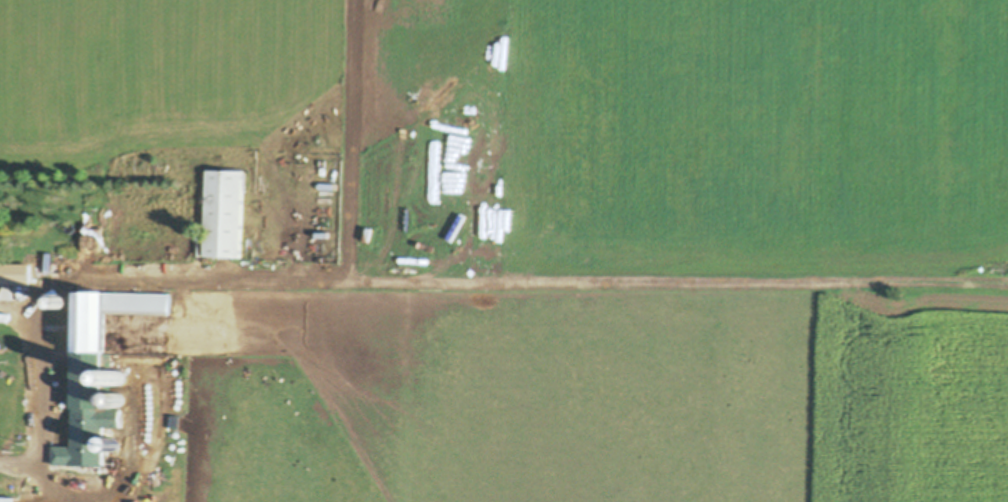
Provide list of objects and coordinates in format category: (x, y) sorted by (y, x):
building: (136, 111)
building: (294, 135)
building: (223, 209)
crop: (574, 239)
building: (6, 269)
building: (65, 298)
building: (97, 367)
building: (117, 374)
road: (46, 387)
building: (116, 396)
building: (112, 440)
building: (7, 497)

